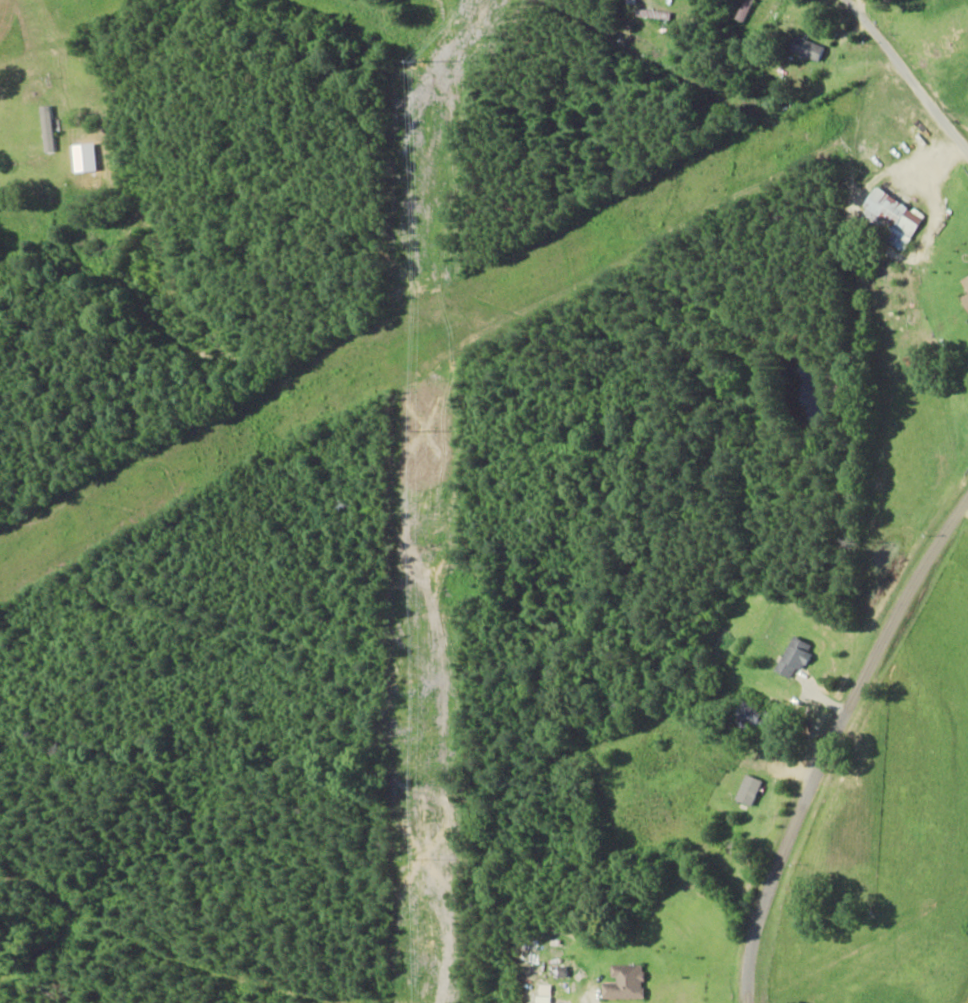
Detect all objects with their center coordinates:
building: (743, 10)
road: (919, 43)
building: (805, 48)
building: (890, 218)
building: (965, 295)
building: (793, 657)
road: (836, 763)
building: (747, 790)
building: (624, 982)

